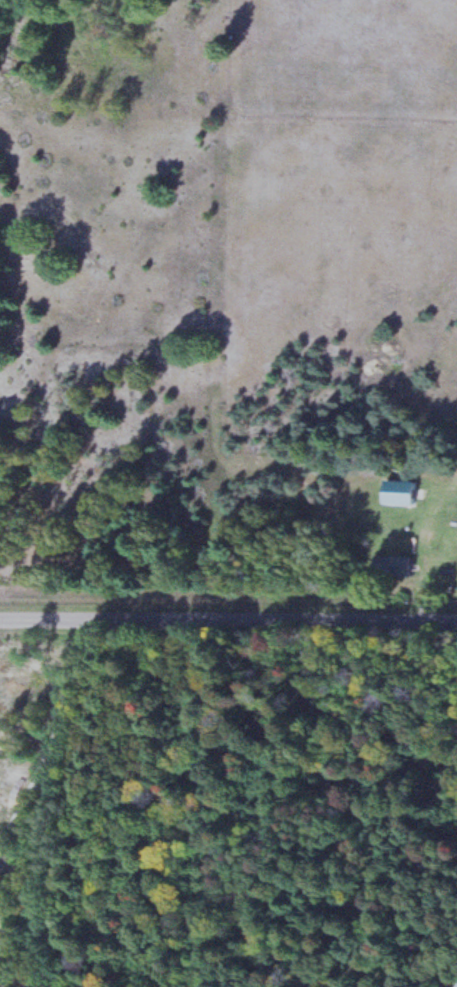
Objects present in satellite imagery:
building: (404, 493)
building: (396, 566)
road: (228, 625)

